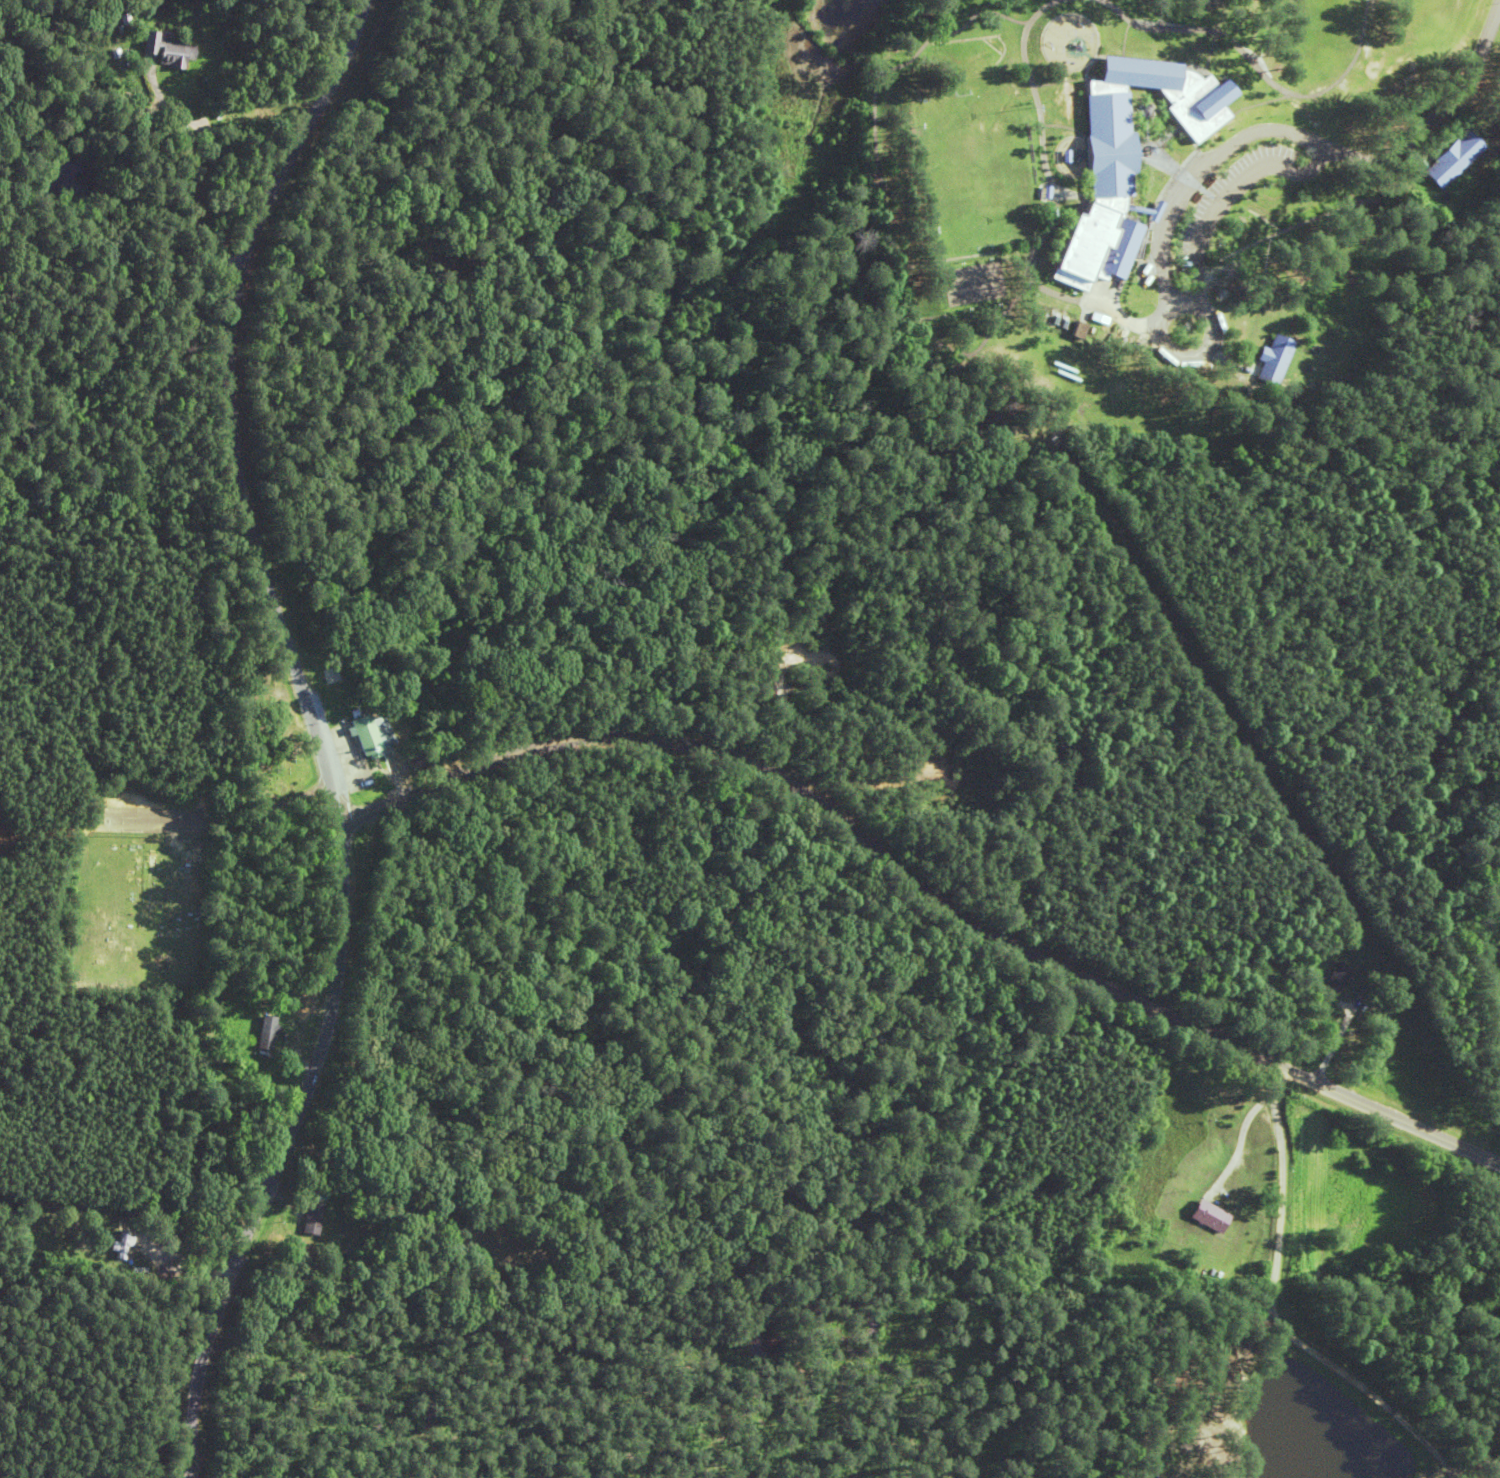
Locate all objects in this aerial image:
building: (165, 51)
road: (1456, 116)
road: (1313, 137)
road: (1421, 151)
building: (1457, 157)
building: (1125, 161)
park: (972, 170)
road: (1237, 193)
parking lot: (1234, 196)
park: (976, 283)
building: (1080, 331)
road: (1199, 356)
building: (1273, 357)
road: (316, 711)
building: (357, 732)
building: (422, 758)
road: (930, 868)
building: (1499, 959)
building: (1339, 978)
building: (267, 1031)
building: (1213, 1215)
building: (312, 1217)
building: (120, 1244)
road: (179, 1453)

